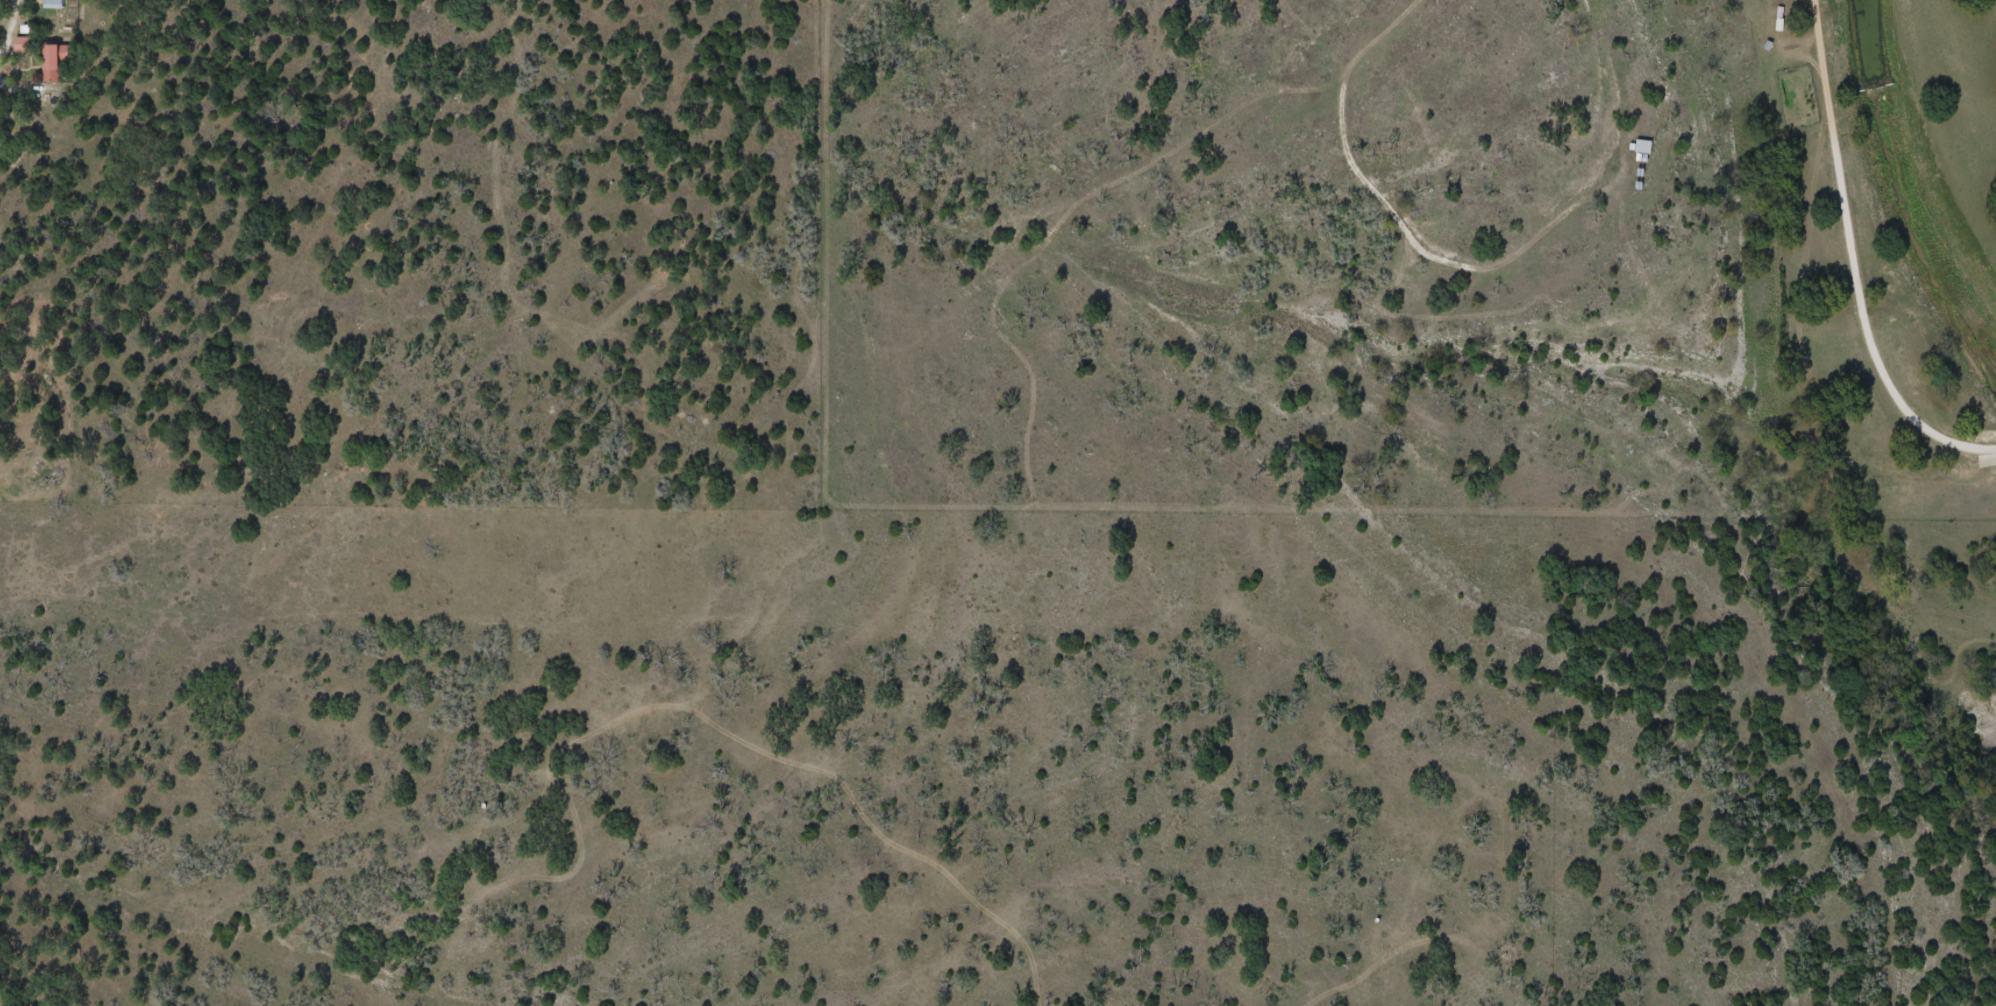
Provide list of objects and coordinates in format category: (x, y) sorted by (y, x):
building: (53, 3)
road: (12, 31)
building: (23, 45)
building: (51, 62)
building: (1644, 149)

